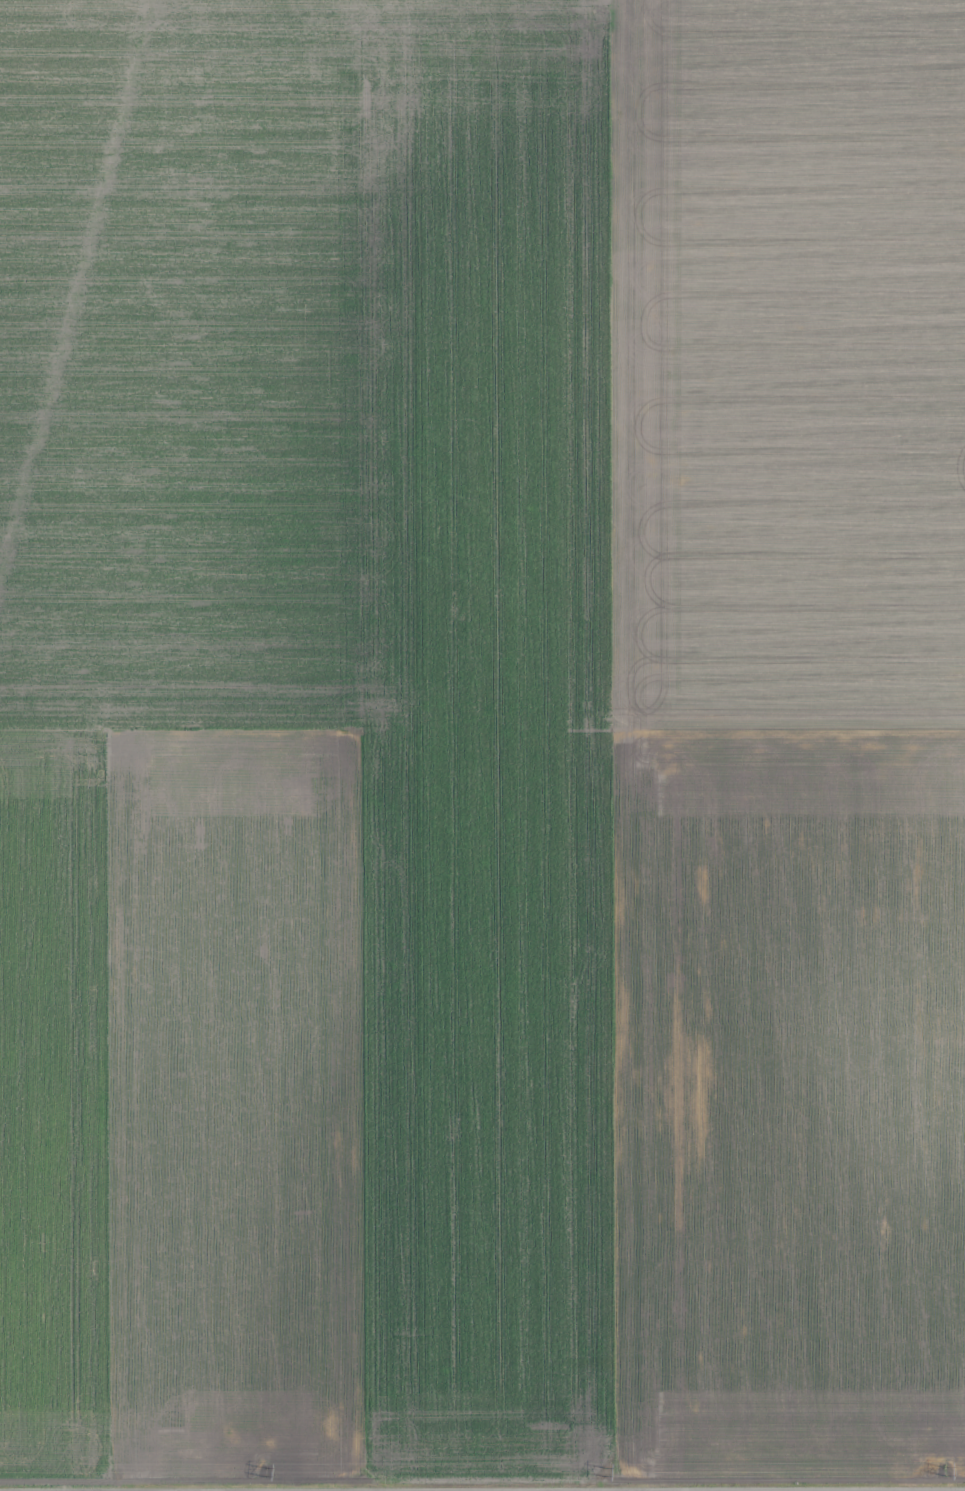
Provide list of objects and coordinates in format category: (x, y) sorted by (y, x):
power tower: (267, 1471)
power tower: (946, 1471)
power tower: (605, 1472)

